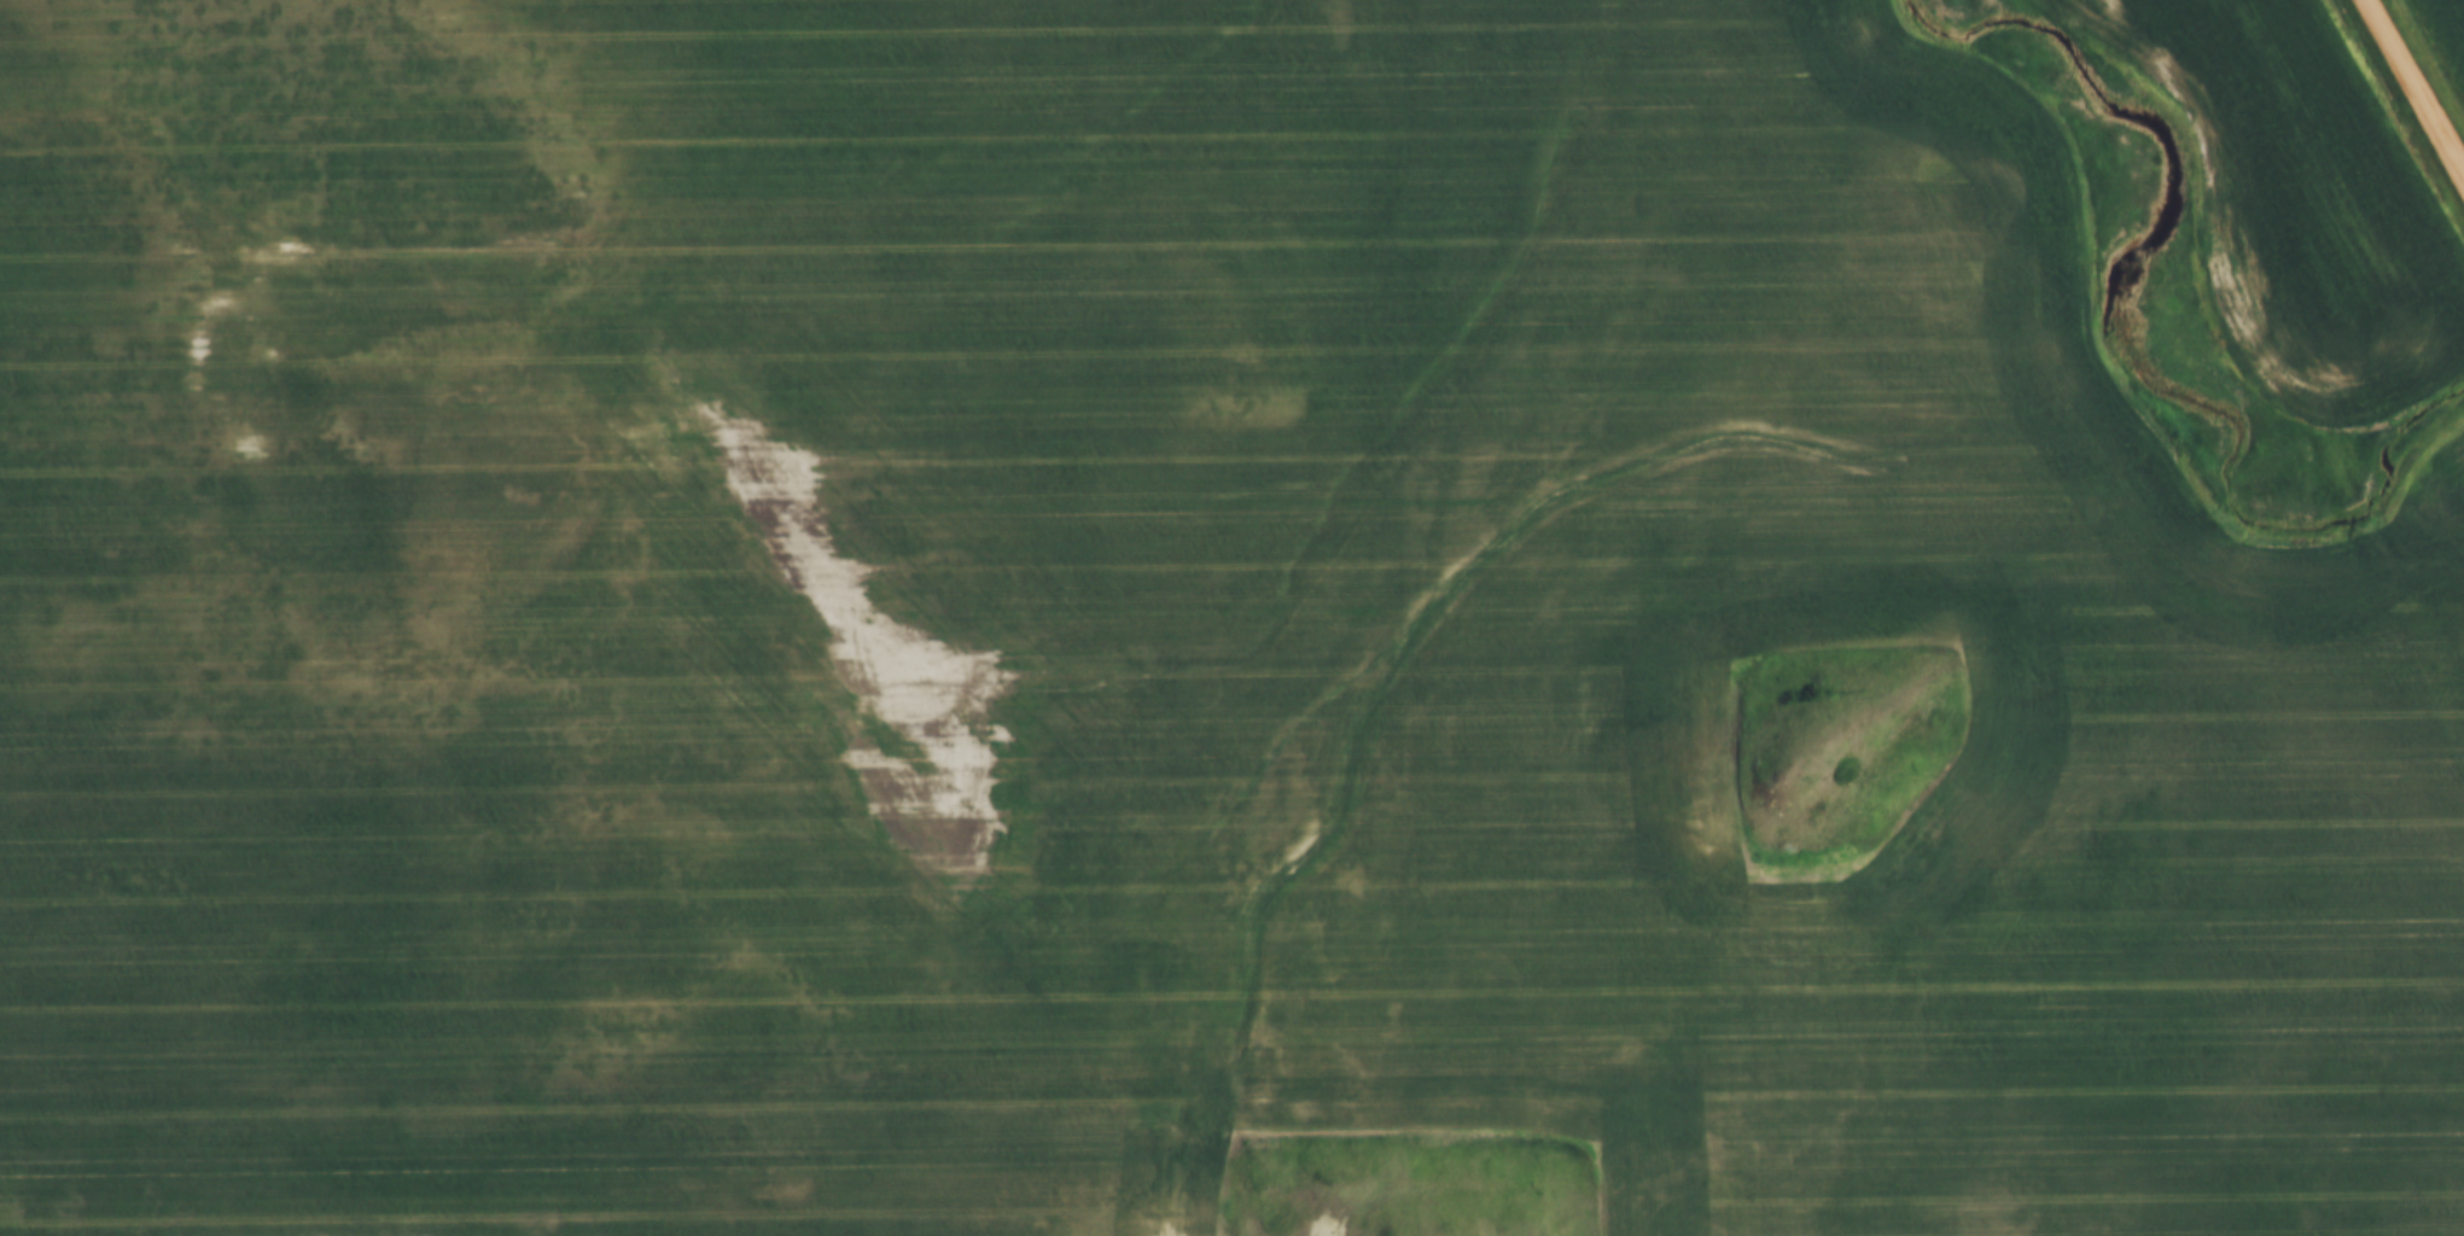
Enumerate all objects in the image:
road: (2417, 82)

